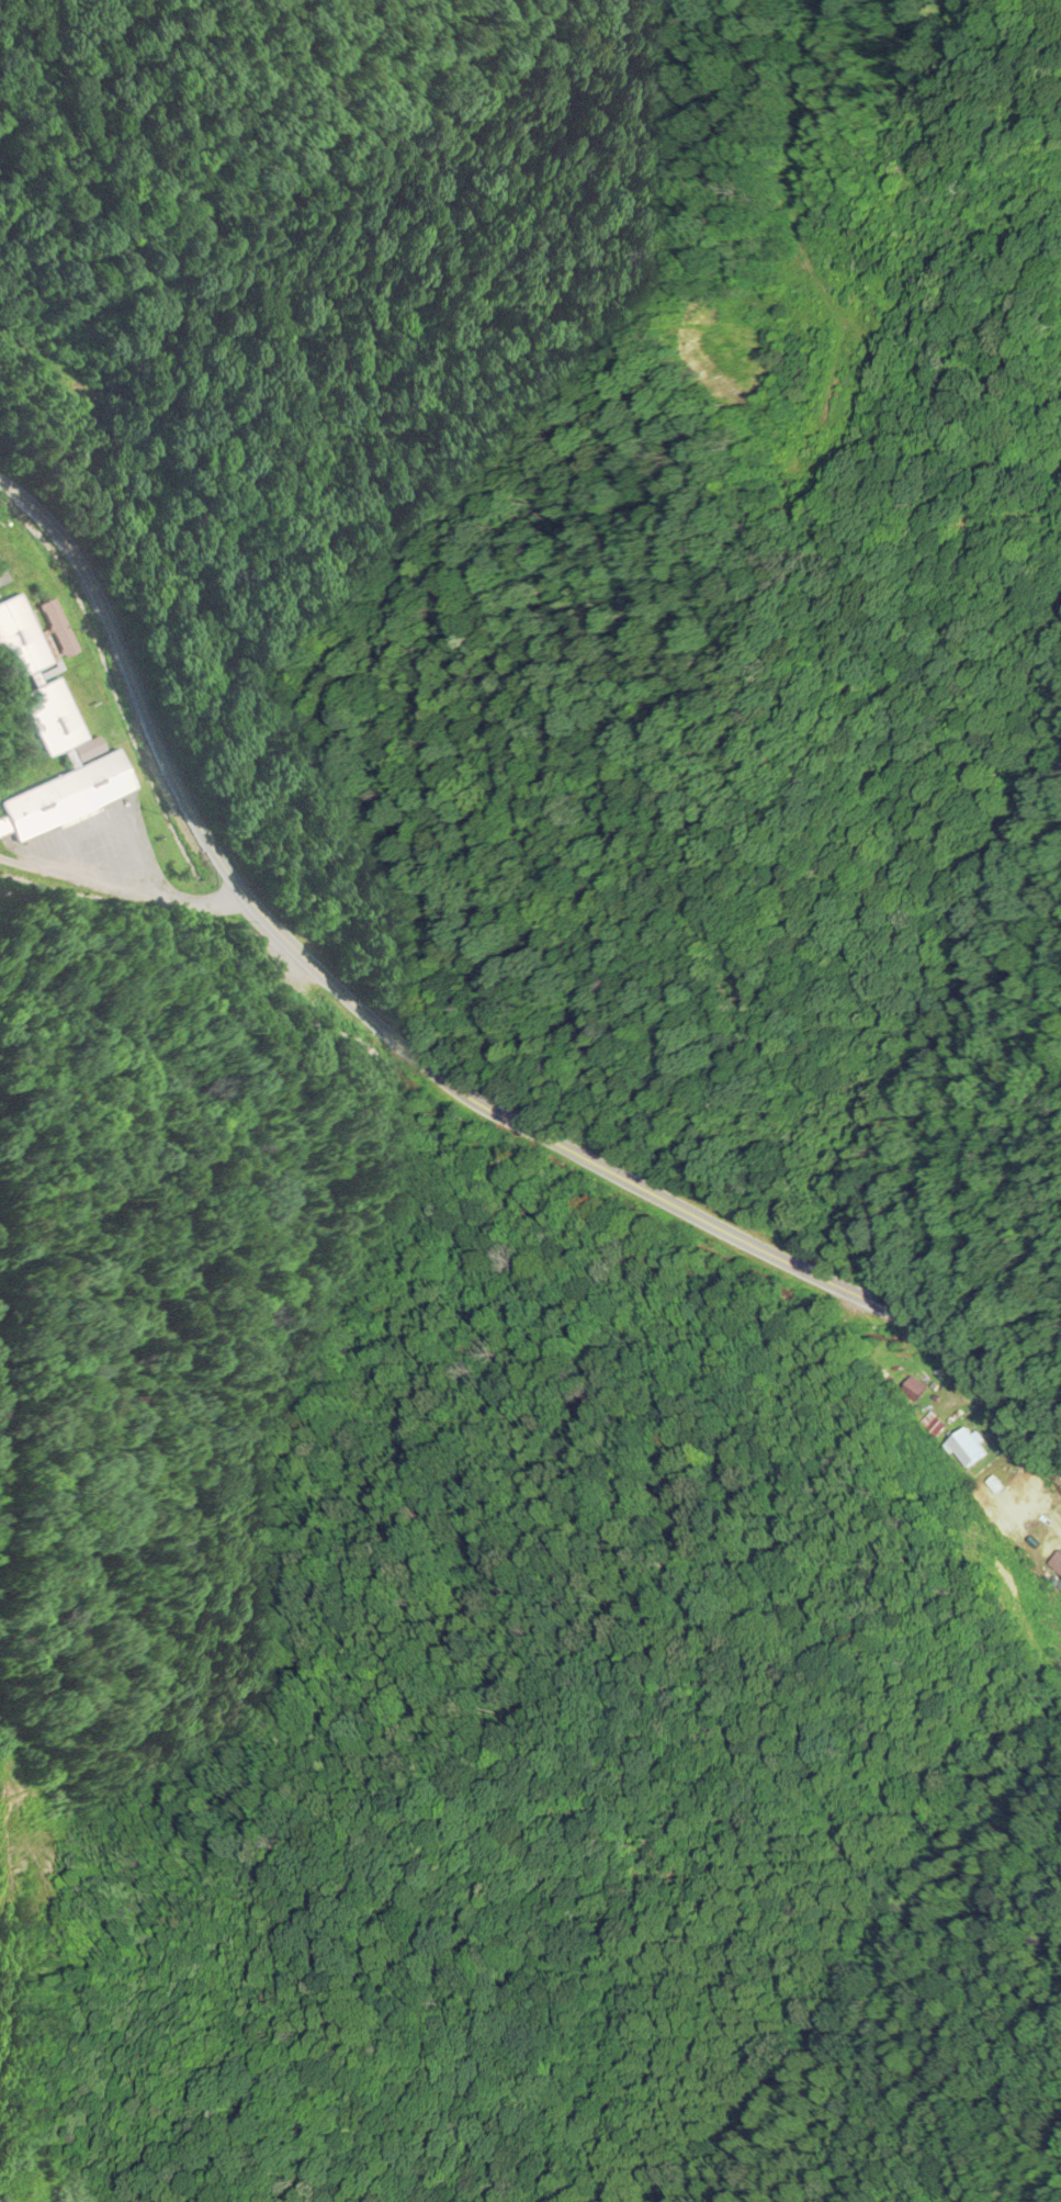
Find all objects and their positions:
building: (56, 629)
building: (19, 641)
building: (94, 766)
road: (117, 870)
road: (438, 1072)
building: (913, 1391)
building: (966, 1449)
building: (994, 1493)
building: (1056, 1564)
building: (1059, 1588)

